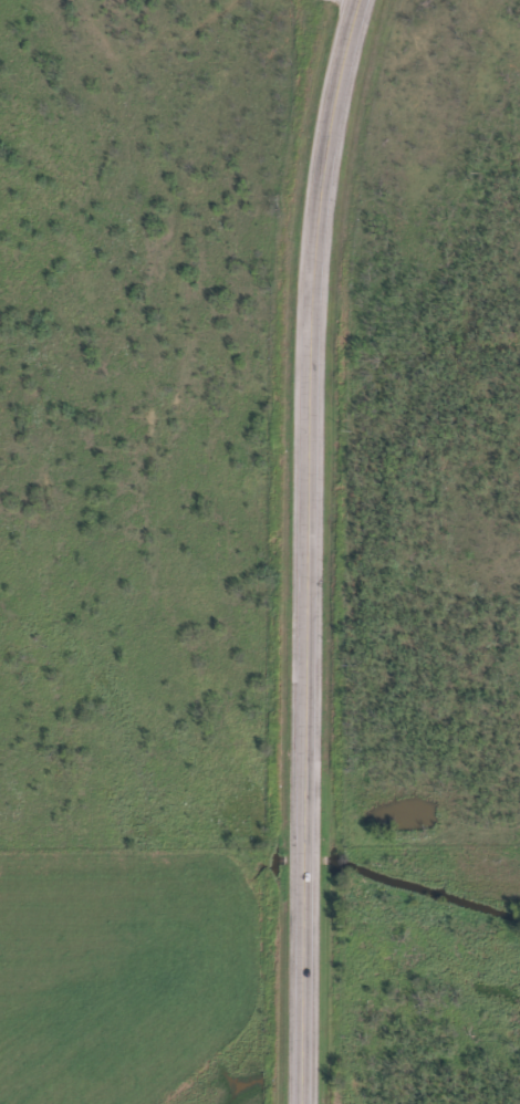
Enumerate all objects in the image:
road: (315, 549)

